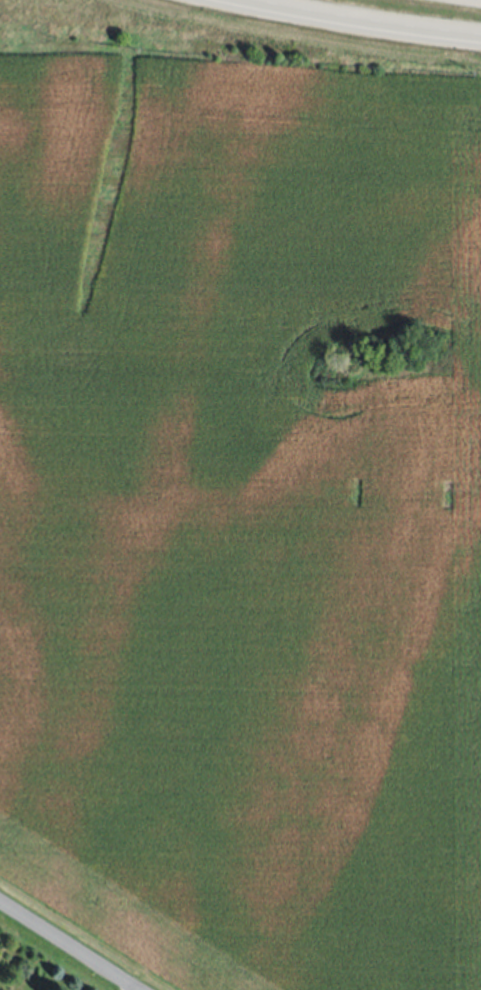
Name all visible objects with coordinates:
road: (356, 23)
road: (69, 944)

